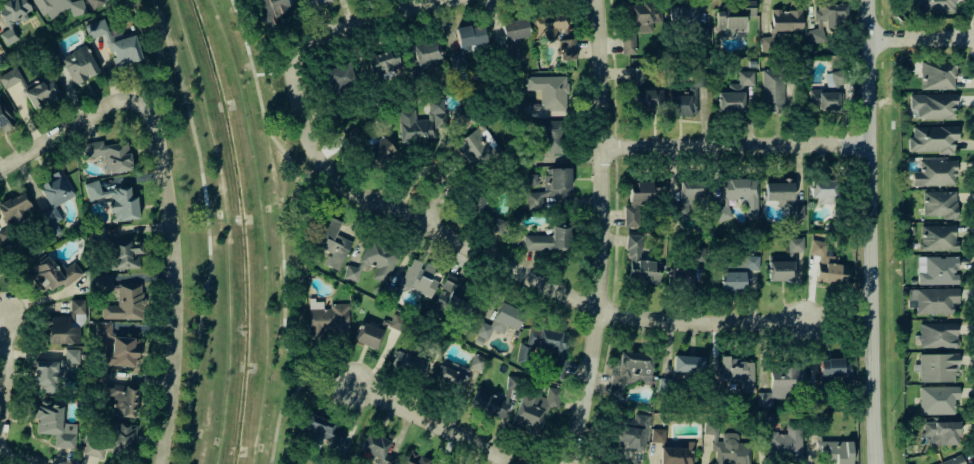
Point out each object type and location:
building: (314, 2)
building: (95, 3)
building: (933, 5)
building: (59, 7)
building: (271, 10)
road: (383, 14)
building: (682, 16)
building: (12, 17)
building: (733, 17)
building: (826, 18)
building: (786, 20)
road: (972, 20)
building: (639, 21)
road: (971, 25)
building: (550, 26)
building: (513, 31)
road: (973, 38)
road: (922, 39)
building: (115, 43)
building: (466, 43)
building: (767, 44)
street lamp: (904, 47)
building: (566, 49)
road: (972, 51)
building: (0, 52)
building: (426, 55)
road: (972, 55)
building: (382, 60)
building: (78, 65)
building: (935, 74)
building: (9, 77)
building: (338, 77)
building: (773, 88)
building: (41, 91)
building: (549, 91)
building: (826, 92)
building: (643, 93)
building: (735, 93)
building: (931, 106)
building: (5, 114)
building: (421, 123)
road: (70, 128)
building: (552, 136)
building: (352, 137)
building: (931, 138)
building: (476, 146)
road: (735, 146)
building: (379, 151)
building: (109, 154)
street lamp: (849, 155)
building: (933, 172)
road: (310, 174)
building: (550, 187)
building: (822, 190)
building: (742, 192)
building: (54, 195)
building: (689, 195)
building: (782, 196)
building: (639, 198)
building: (115, 200)
road: (431, 202)
building: (475, 203)
building: (938, 204)
building: (723, 211)
building: (493, 223)
road: (282, 224)
road: (204, 229)
road: (871, 232)
road: (600, 233)
road: (617, 233)
park: (239, 234)
building: (937, 237)
building: (549, 240)
building: (332, 242)
building: (795, 244)
road: (478, 252)
building: (124, 254)
building: (373, 261)
building: (750, 262)
building: (825, 262)
building: (732, 264)
building: (780, 270)
building: (936, 270)
building: (52, 273)
building: (680, 276)
road: (179, 279)
building: (414, 280)
building: (732, 281)
building: (449, 296)
building: (120, 298)
building: (932, 300)
building: (77, 312)
building: (326, 319)
building: (397, 322)
building: (498, 322)
building: (61, 330)
building: (367, 335)
building: (937, 335)
building: (116, 346)
building: (545, 348)
road: (3, 349)
building: (71, 357)
building: (477, 362)
building: (408, 363)
building: (935, 366)
building: (834, 368)
building: (631, 370)
building: (680, 371)
building: (738, 372)
building: (44, 375)
building: (451, 375)
road: (325, 378)
road: (301, 379)
building: (513, 382)
building: (782, 385)
building: (120, 398)
building: (935, 399)
building: (487, 402)
building: (534, 408)
building: (53, 424)
road: (431, 424)
building: (321, 432)
building: (632, 432)
building: (940, 432)
building: (658, 435)
building: (111, 441)
building: (785, 444)
building: (376, 448)
building: (729, 450)
building: (836, 450)
building: (415, 459)
road: (24, 460)
building: (951, 460)

